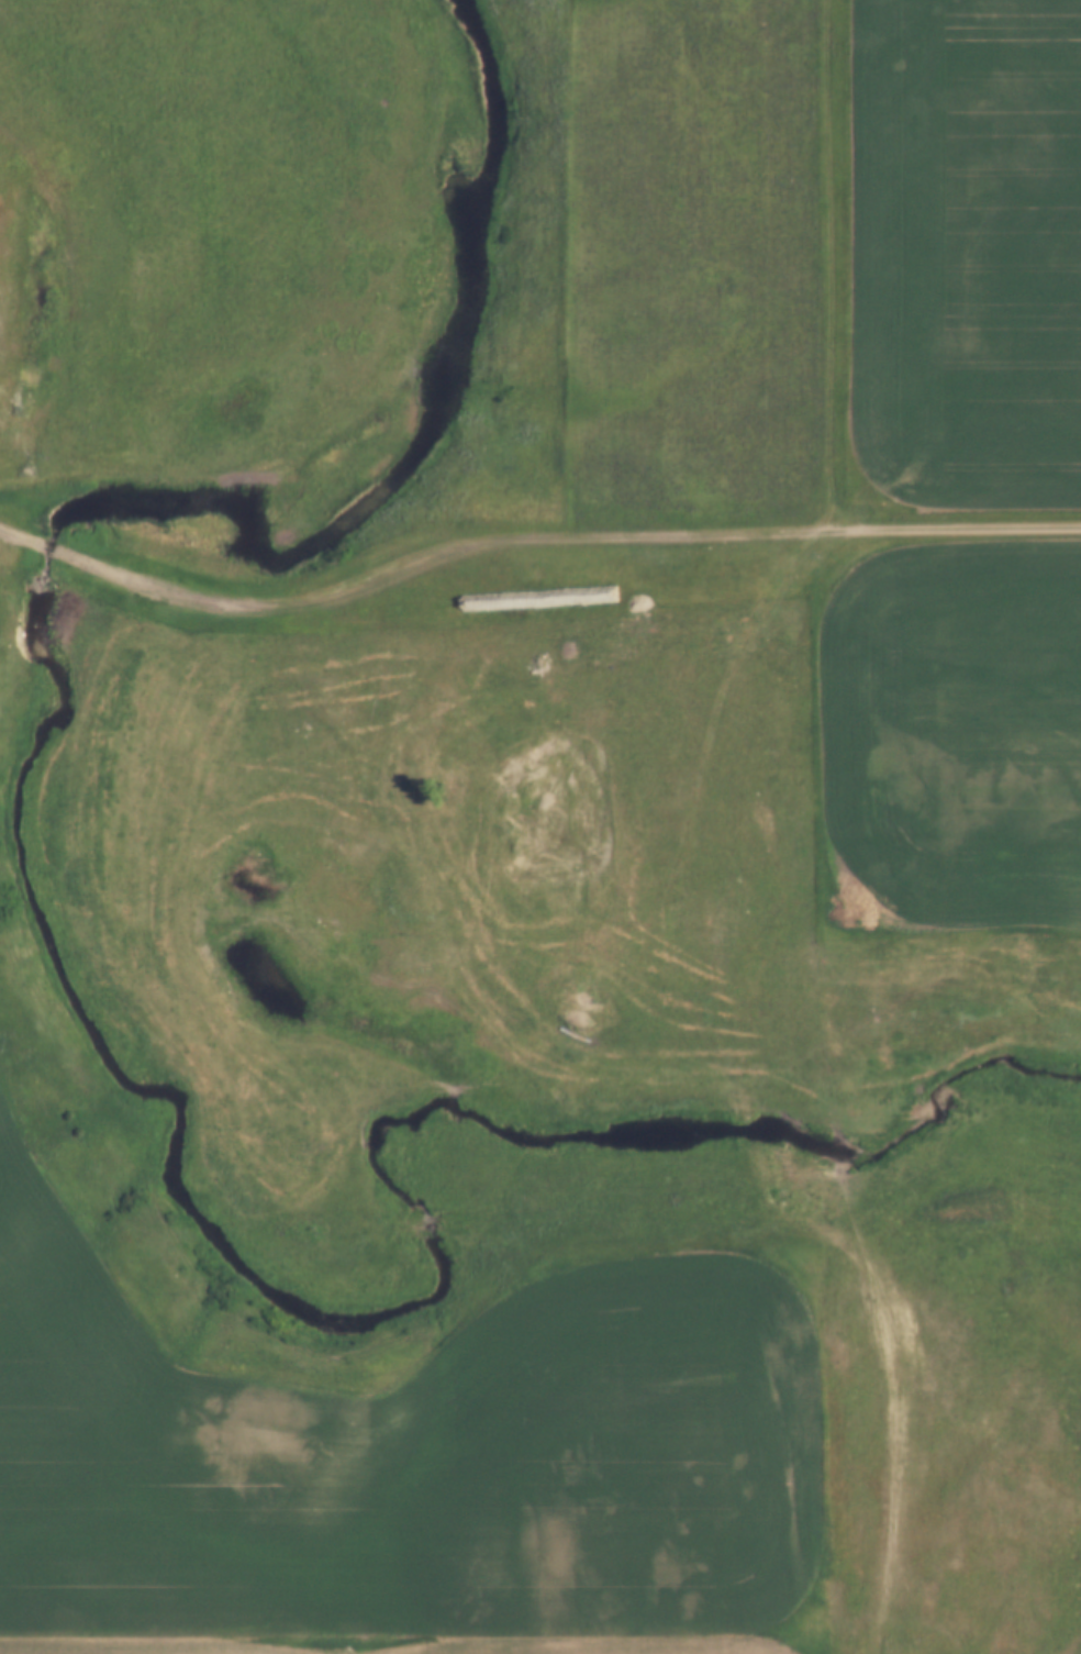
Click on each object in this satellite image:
road: (530, 534)

